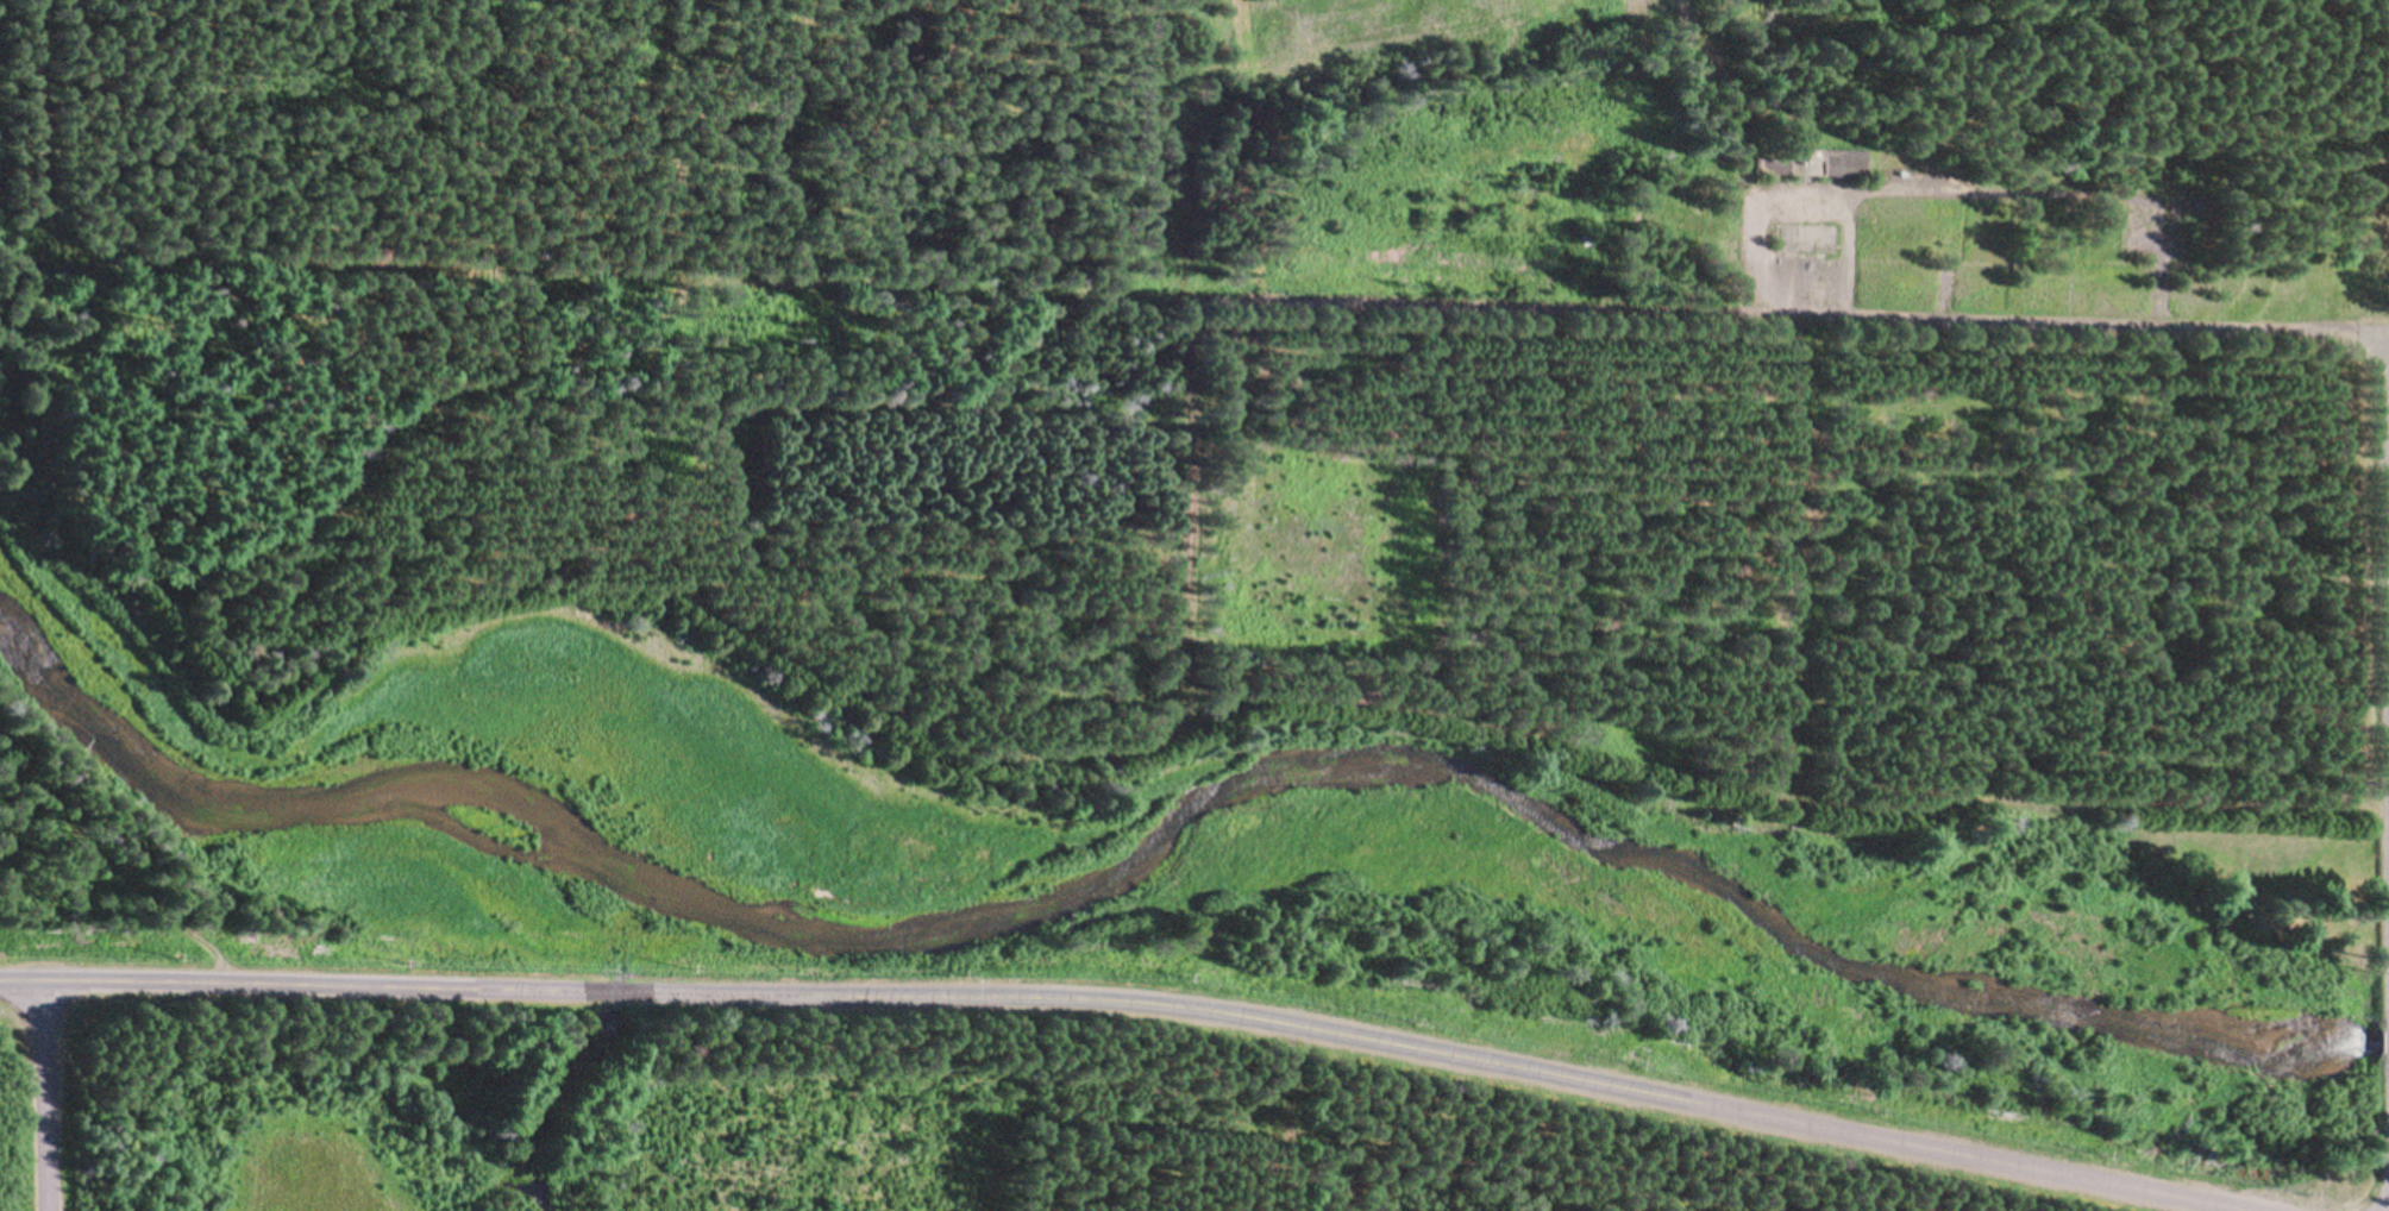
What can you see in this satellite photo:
building: (1845, 165)
building: (1777, 169)
road: (1181, 212)
road: (1067, 321)
road: (664, 457)
road: (1789, 581)
river: (1178, 874)
road: (1127, 1003)
road: (52, 1096)

